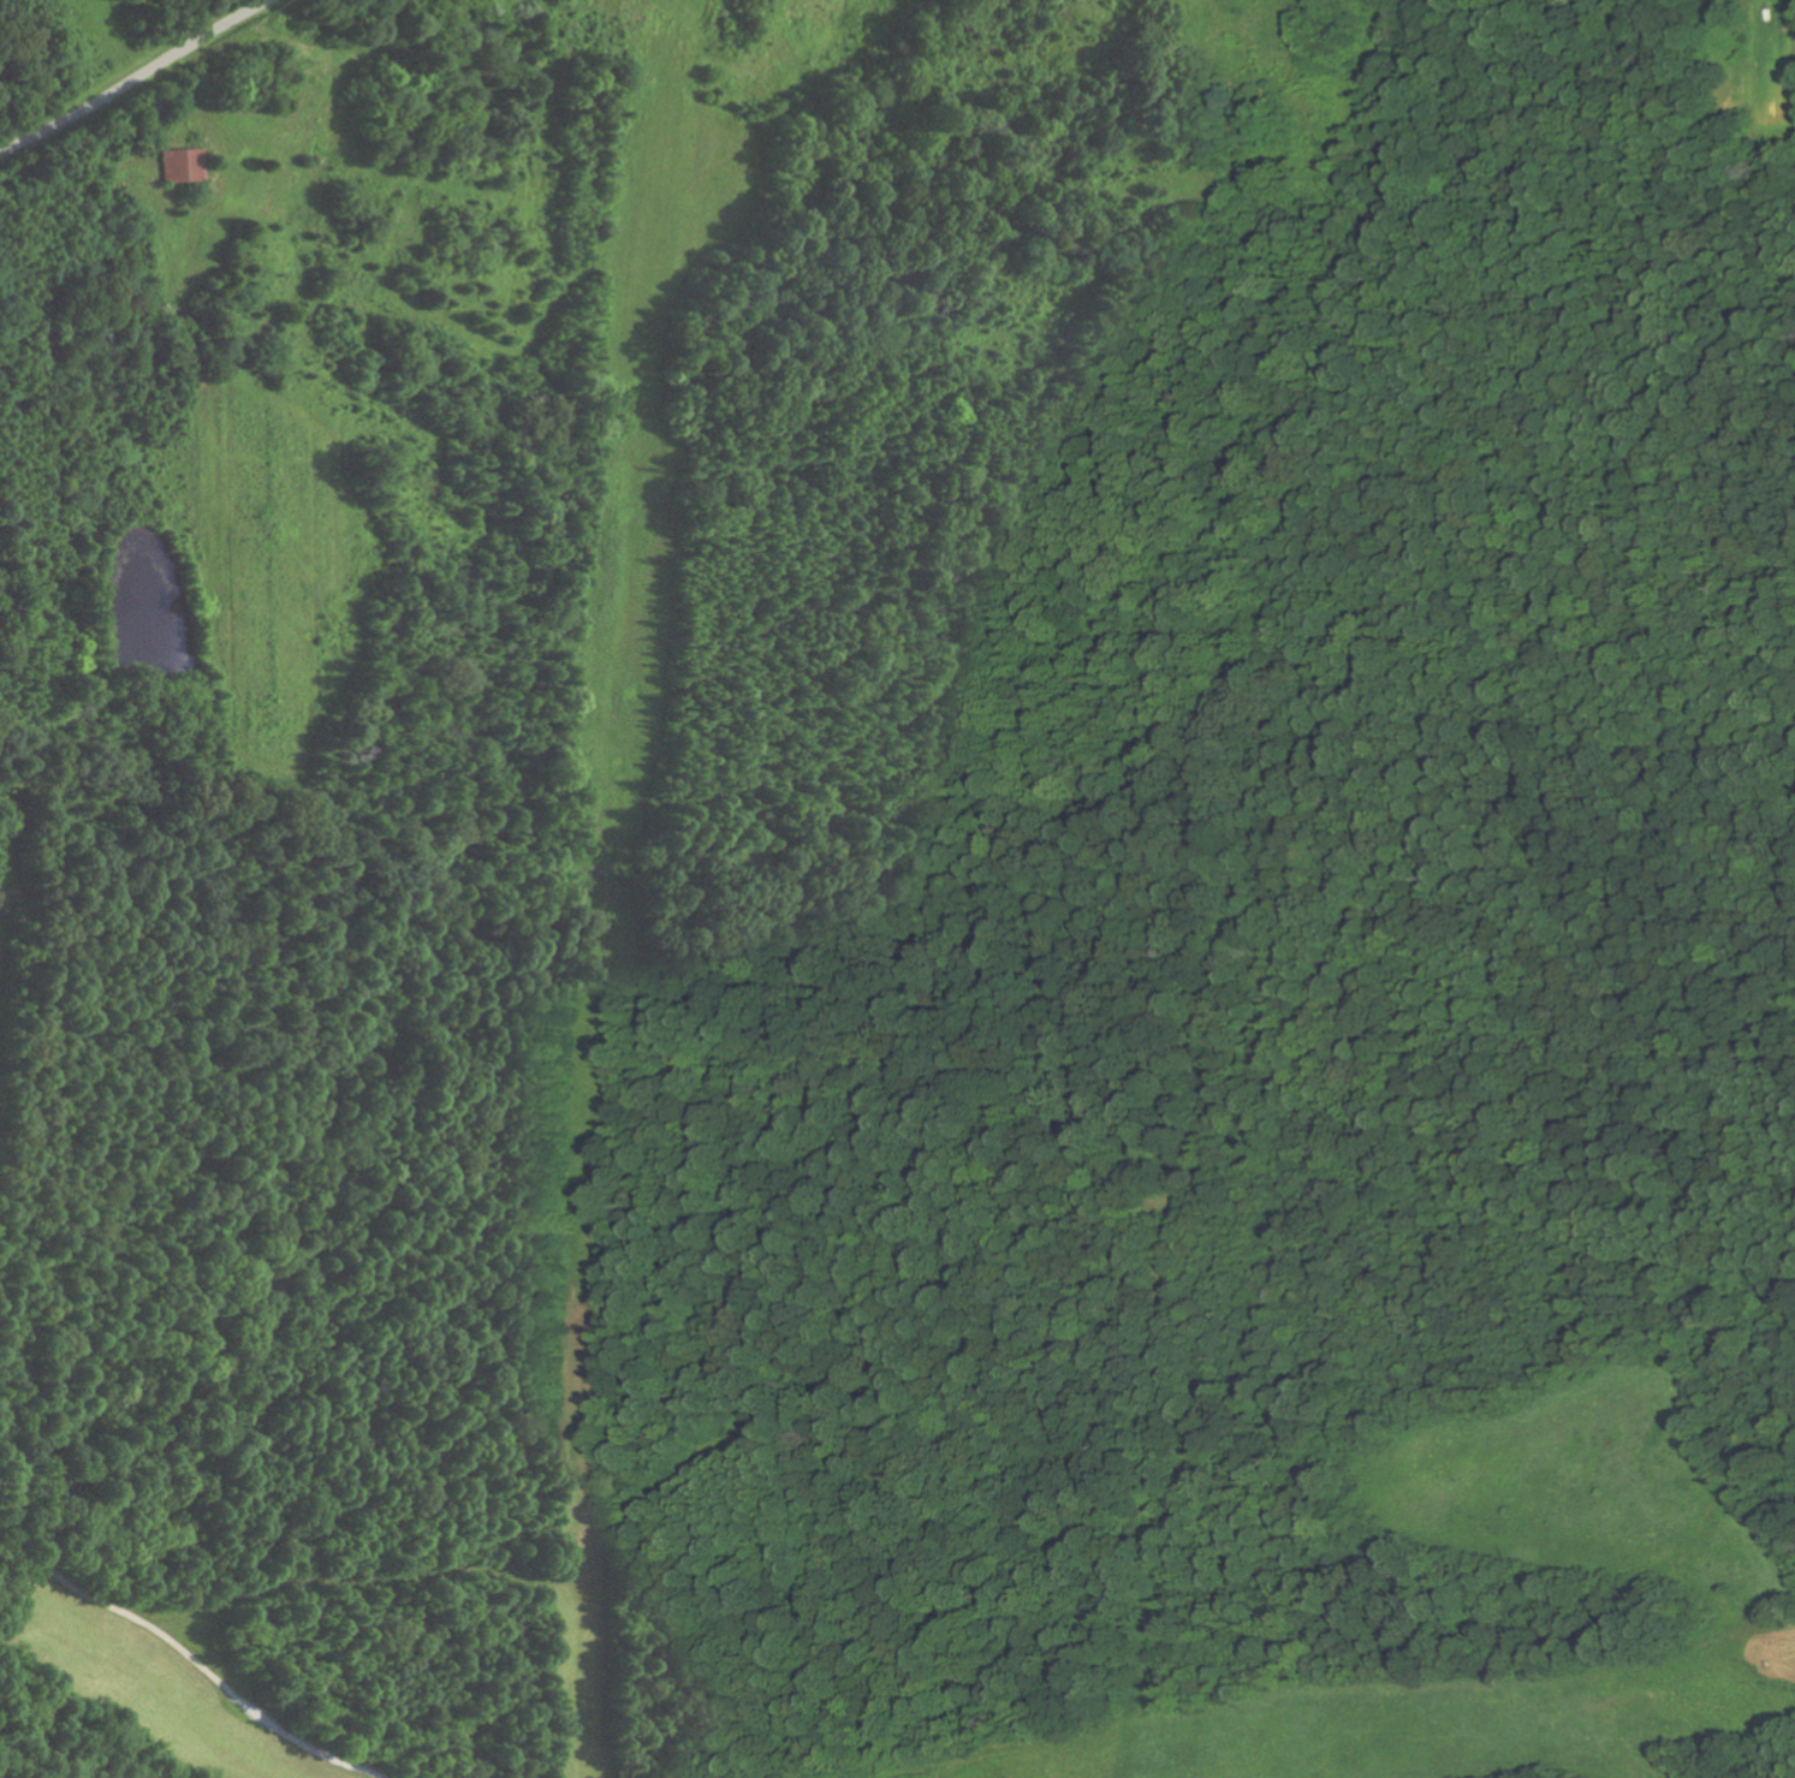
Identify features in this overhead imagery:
road: (136, 77)
building: (154, 108)
building: (184, 165)

